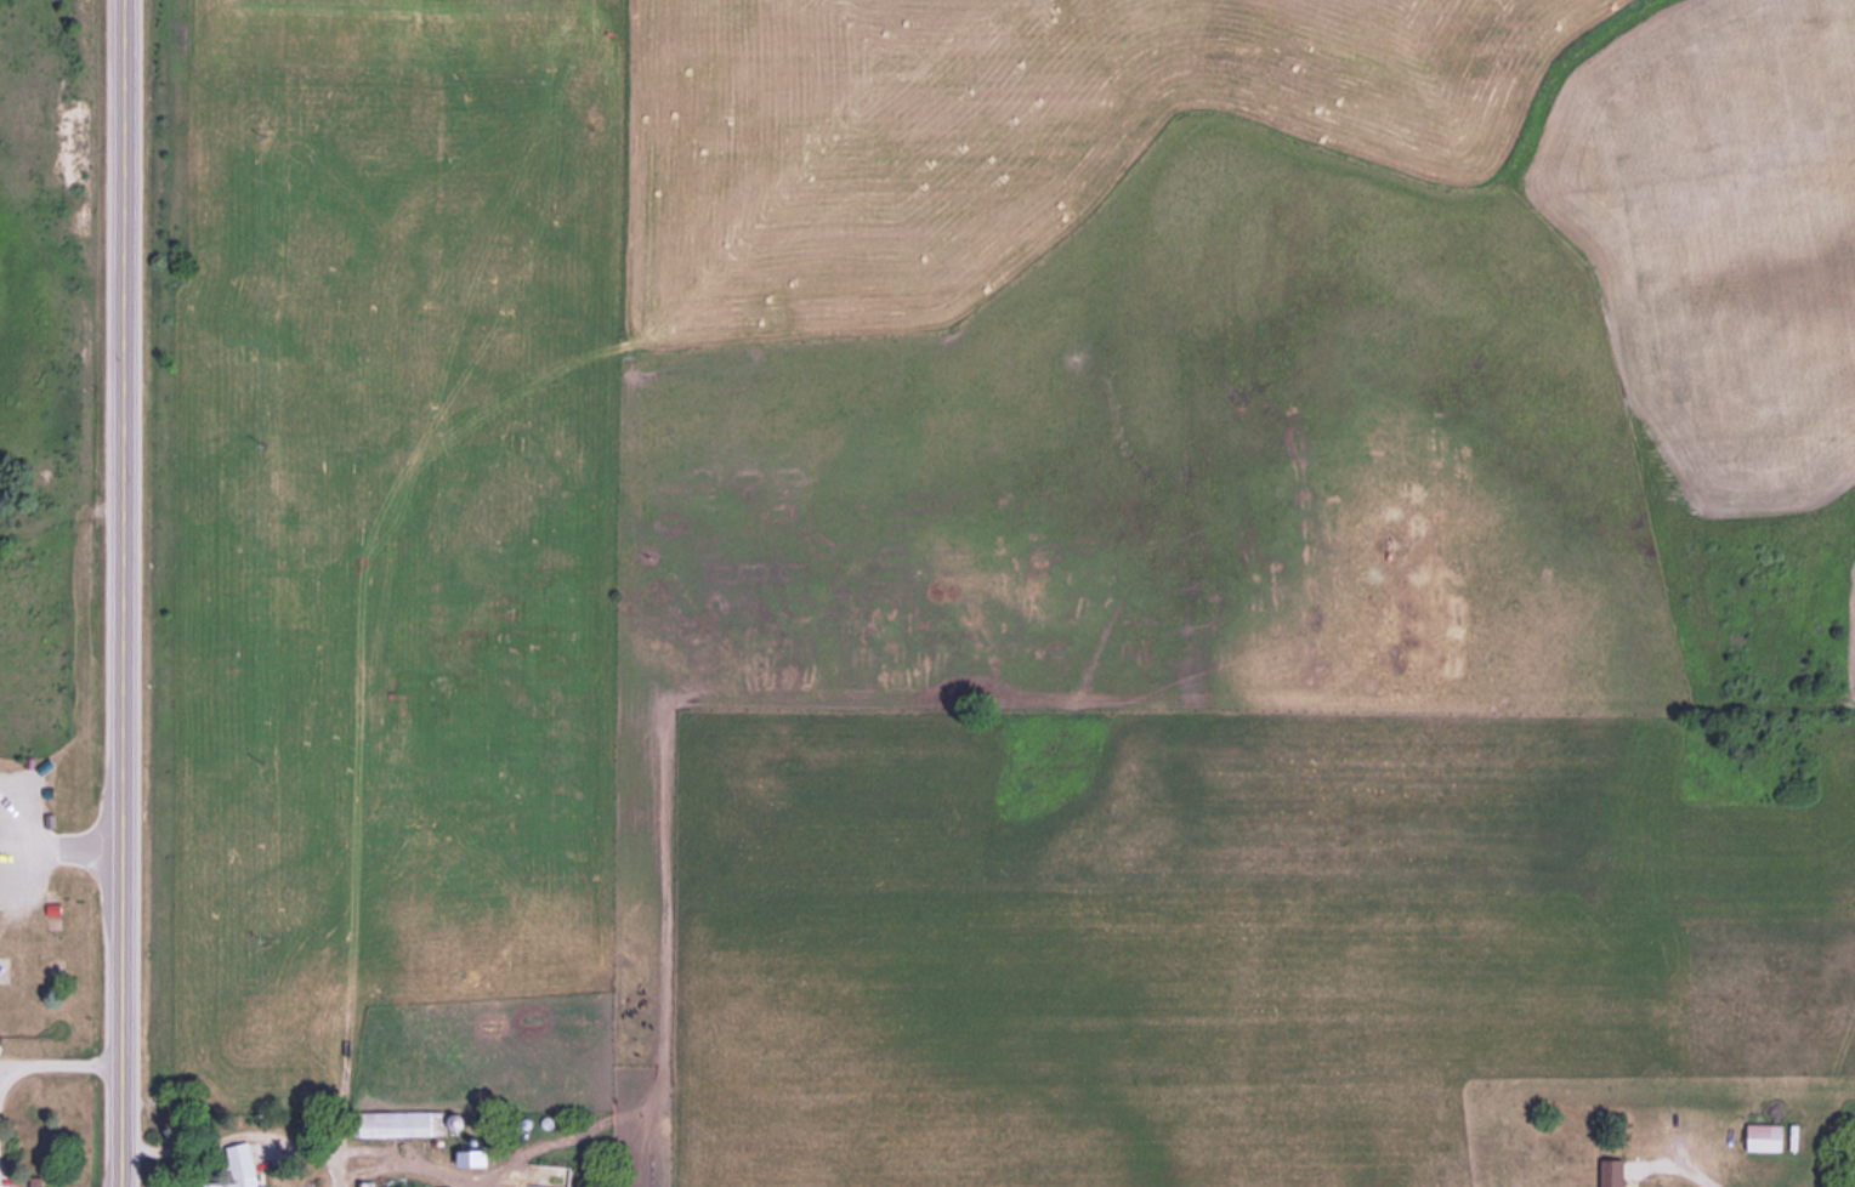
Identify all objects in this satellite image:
road: (126, 592)
road: (72, 850)
building: (405, 1123)
building: (1768, 1136)
building: (231, 1169)
building: (1632, 1171)
building: (364, 1185)

